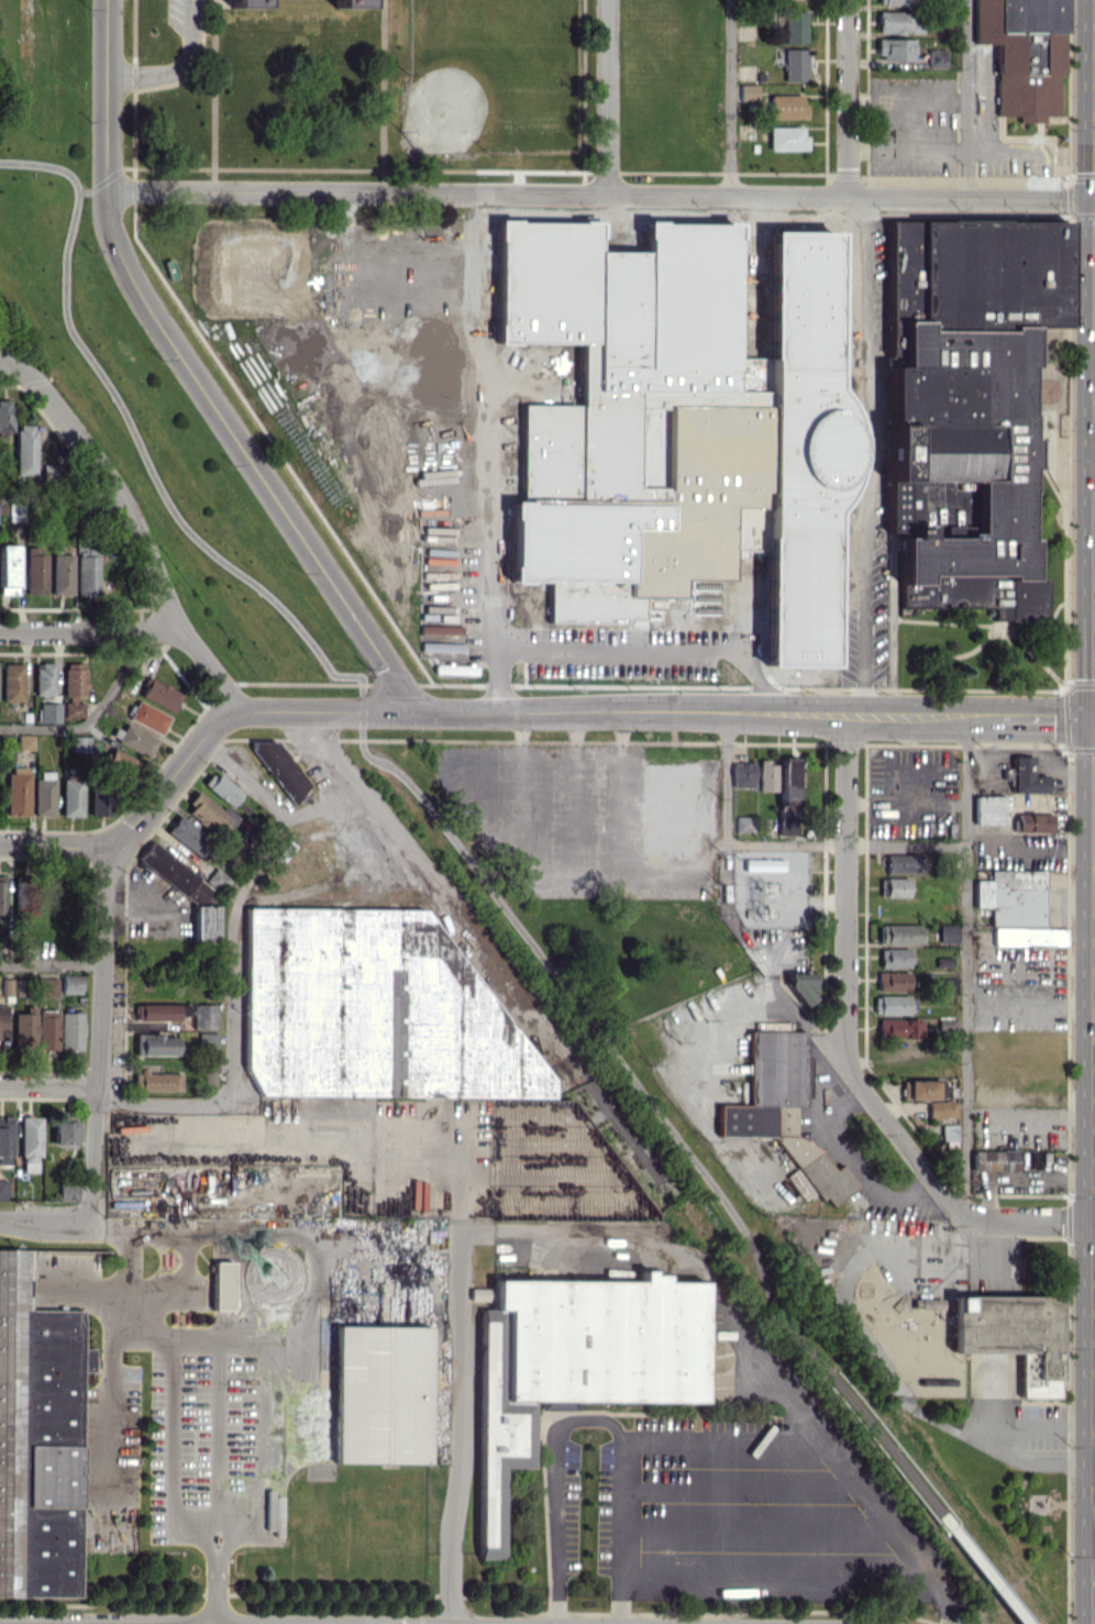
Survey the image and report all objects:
building: (896, 2)
building: (245, 3)
building: (352, 3)
road: (192, 20)
building: (899, 21)
building: (794, 26)
building: (895, 48)
building: (1022, 54)
building: (937, 58)
building: (795, 64)
road: (158, 74)
park: (484, 82)
road: (107, 95)
road: (607, 95)
road: (729, 95)
road: (847, 95)
road: (967, 95)
building: (787, 106)
building: (786, 137)
road: (601, 190)
road: (4, 355)
road: (8, 362)
park: (373, 391)
building: (960, 397)
building: (4, 416)
parking lot: (799, 441)
building: (576, 442)
building: (24, 450)
road: (490, 451)
park: (615, 452)
road: (882, 453)
road: (247, 456)
building: (49, 473)
road: (115, 487)
road: (60, 495)
building: (15, 512)
building: (8, 568)
building: (36, 570)
building: (62, 573)
building: (87, 575)
building: (441, 629)
road: (137, 631)
building: (441, 647)
road: (651, 651)
building: (454, 669)
building: (44, 678)
road: (119, 681)
building: (12, 682)
building: (74, 689)
building: (159, 694)
road: (232, 711)
building: (49, 712)
road: (755, 715)
building: (148, 717)
road: (40, 726)
building: (136, 740)
building: (24, 741)
building: (80, 743)
building: (121, 764)
building: (280, 769)
building: (742, 774)
building: (766, 775)
building: (1026, 776)
building: (787, 781)
building: (220, 787)
building: (16, 791)
building: (43, 793)
road: (620, 795)
building: (70, 796)
building: (98, 802)
building: (672, 803)
building: (988, 809)
building: (209, 814)
road: (434, 814)
road: (726, 814)
building: (1033, 822)
building: (743, 824)
building: (786, 826)
building: (193, 836)
road: (54, 843)
road: (845, 843)
road: (1036, 847)
building: (284, 853)
building: (903, 863)
building: (763, 870)
building: (175, 874)
road: (435, 881)
building: (893, 886)
building: (2, 896)
building: (1011, 896)
building: (23, 898)
building: (204, 924)
building: (947, 932)
building: (898, 933)
building: (1029, 936)
road: (755, 951)
building: (894, 957)
road: (51, 963)
road: (230, 963)
road: (964, 963)
building: (892, 980)
building: (70, 983)
building: (948, 984)
building: (801, 986)
road: (844, 990)
building: (888, 1004)
road: (1029, 1006)
building: (370, 1009)
building: (159, 1012)
building: (203, 1016)
building: (3, 1021)
building: (947, 1024)
building: (24, 1028)
building: (46, 1028)
building: (897, 1028)
road: (97, 1029)
building: (70, 1030)
road: (700, 1038)
building: (206, 1041)
building: (154, 1045)
building: (209, 1078)
building: (156, 1081)
road: (47, 1085)
building: (920, 1089)
building: (941, 1108)
building: (782, 1109)
road: (1060, 1120)
building: (948, 1131)
building: (63, 1133)
building: (30, 1137)
building: (5, 1140)
road: (850, 1157)
building: (993, 1160)
building: (2, 1190)
building: (67, 1192)
road: (45, 1214)
road: (1032, 1222)
road: (246, 1231)
road: (124, 1282)
building: (221, 1285)
road: (187, 1293)
building: (479, 1294)
building: (1011, 1335)
road: (247, 1338)
road: (750, 1348)
building: (575, 1362)
road: (456, 1372)
road: (111, 1390)
building: (380, 1394)
road: (915, 1411)
road: (586, 1416)
road: (1094, 1422)
road: (215, 1430)
building: (38, 1438)
road: (722, 1444)
road: (983, 1570)
road: (215, 1573)
road: (777, 1576)

